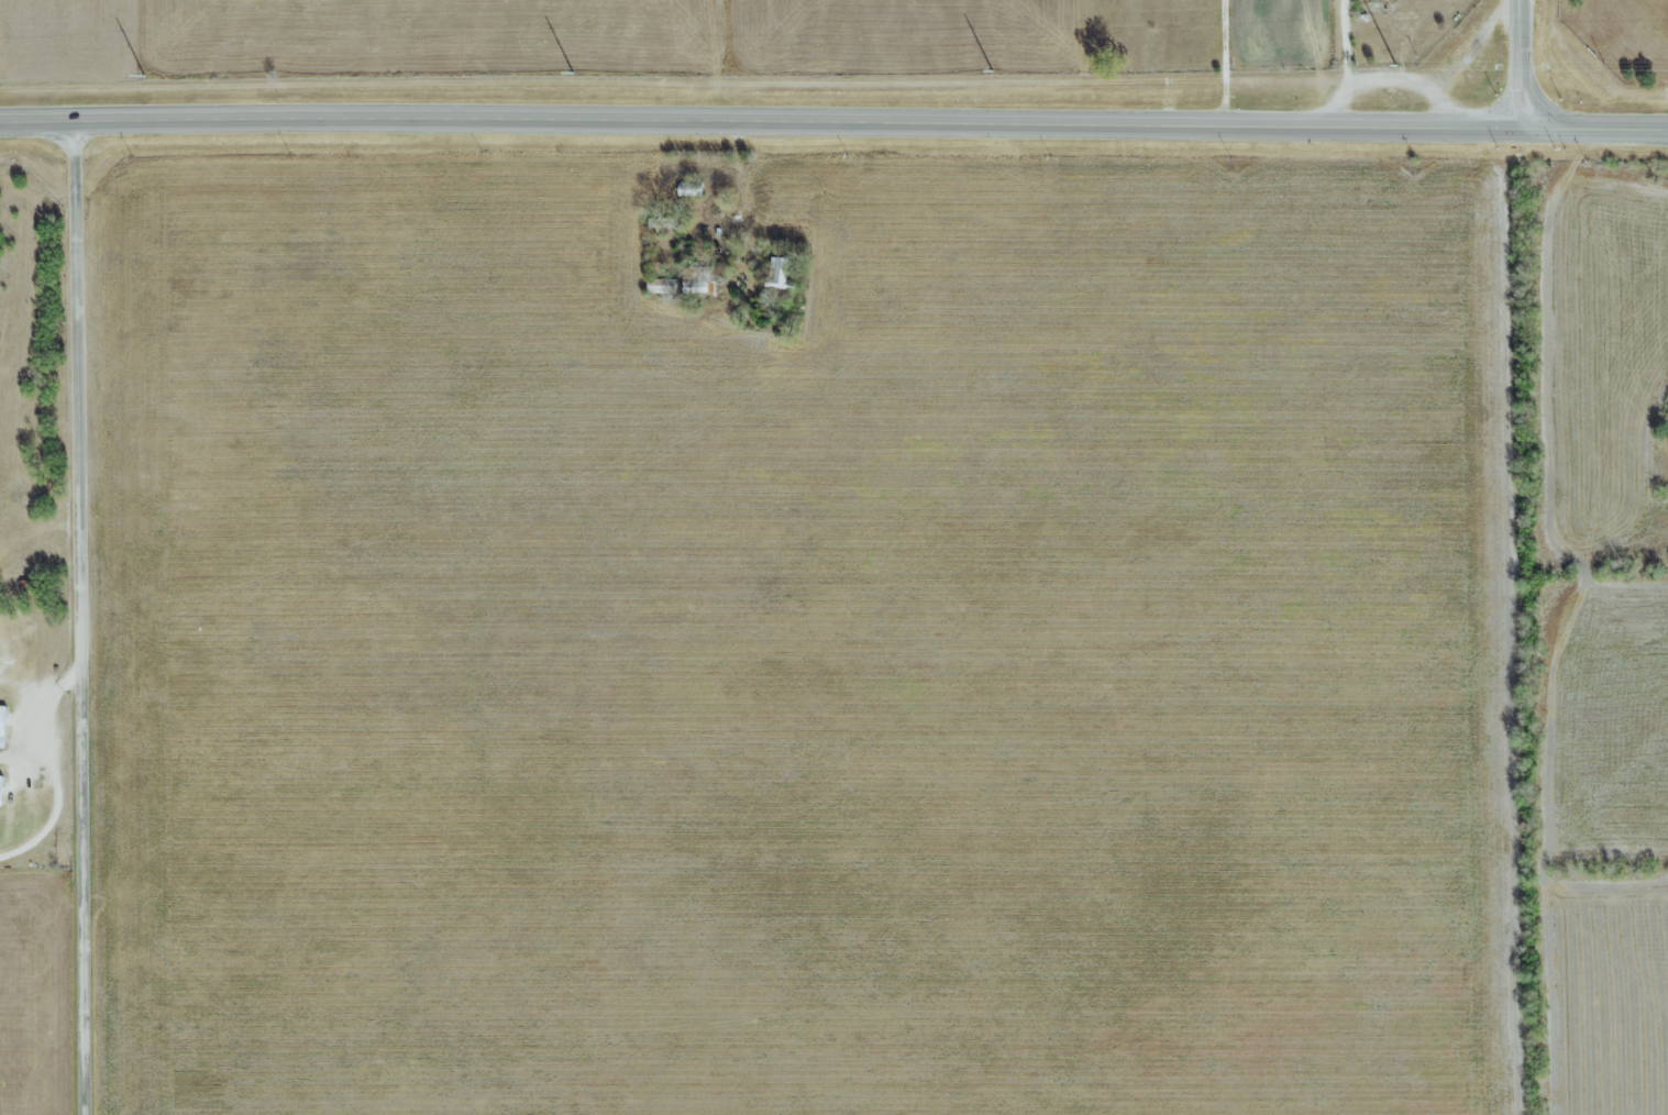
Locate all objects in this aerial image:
road: (1343, 44)
road: (1224, 64)
power tower: (1392, 65)
road: (1524, 65)
power tower: (992, 74)
power tower: (572, 76)
power tower: (142, 79)
road: (1388, 79)
road: (833, 122)
building: (782, 276)
building: (698, 278)
road: (81, 617)
building: (3, 725)
road: (53, 769)
building: (2, 788)

